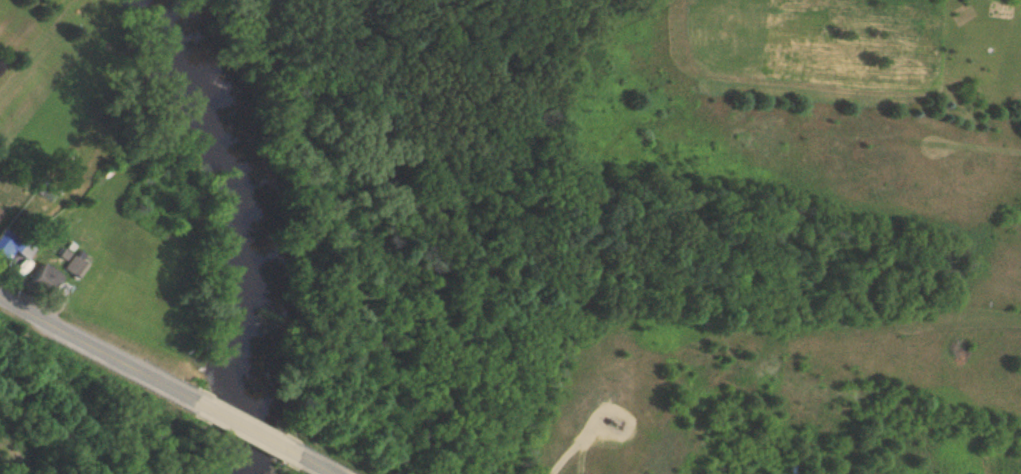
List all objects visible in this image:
building: (1, 215)
river: (252, 231)
building: (14, 243)
building: (42, 278)
road: (96, 348)
road: (247, 428)
road: (317, 465)

